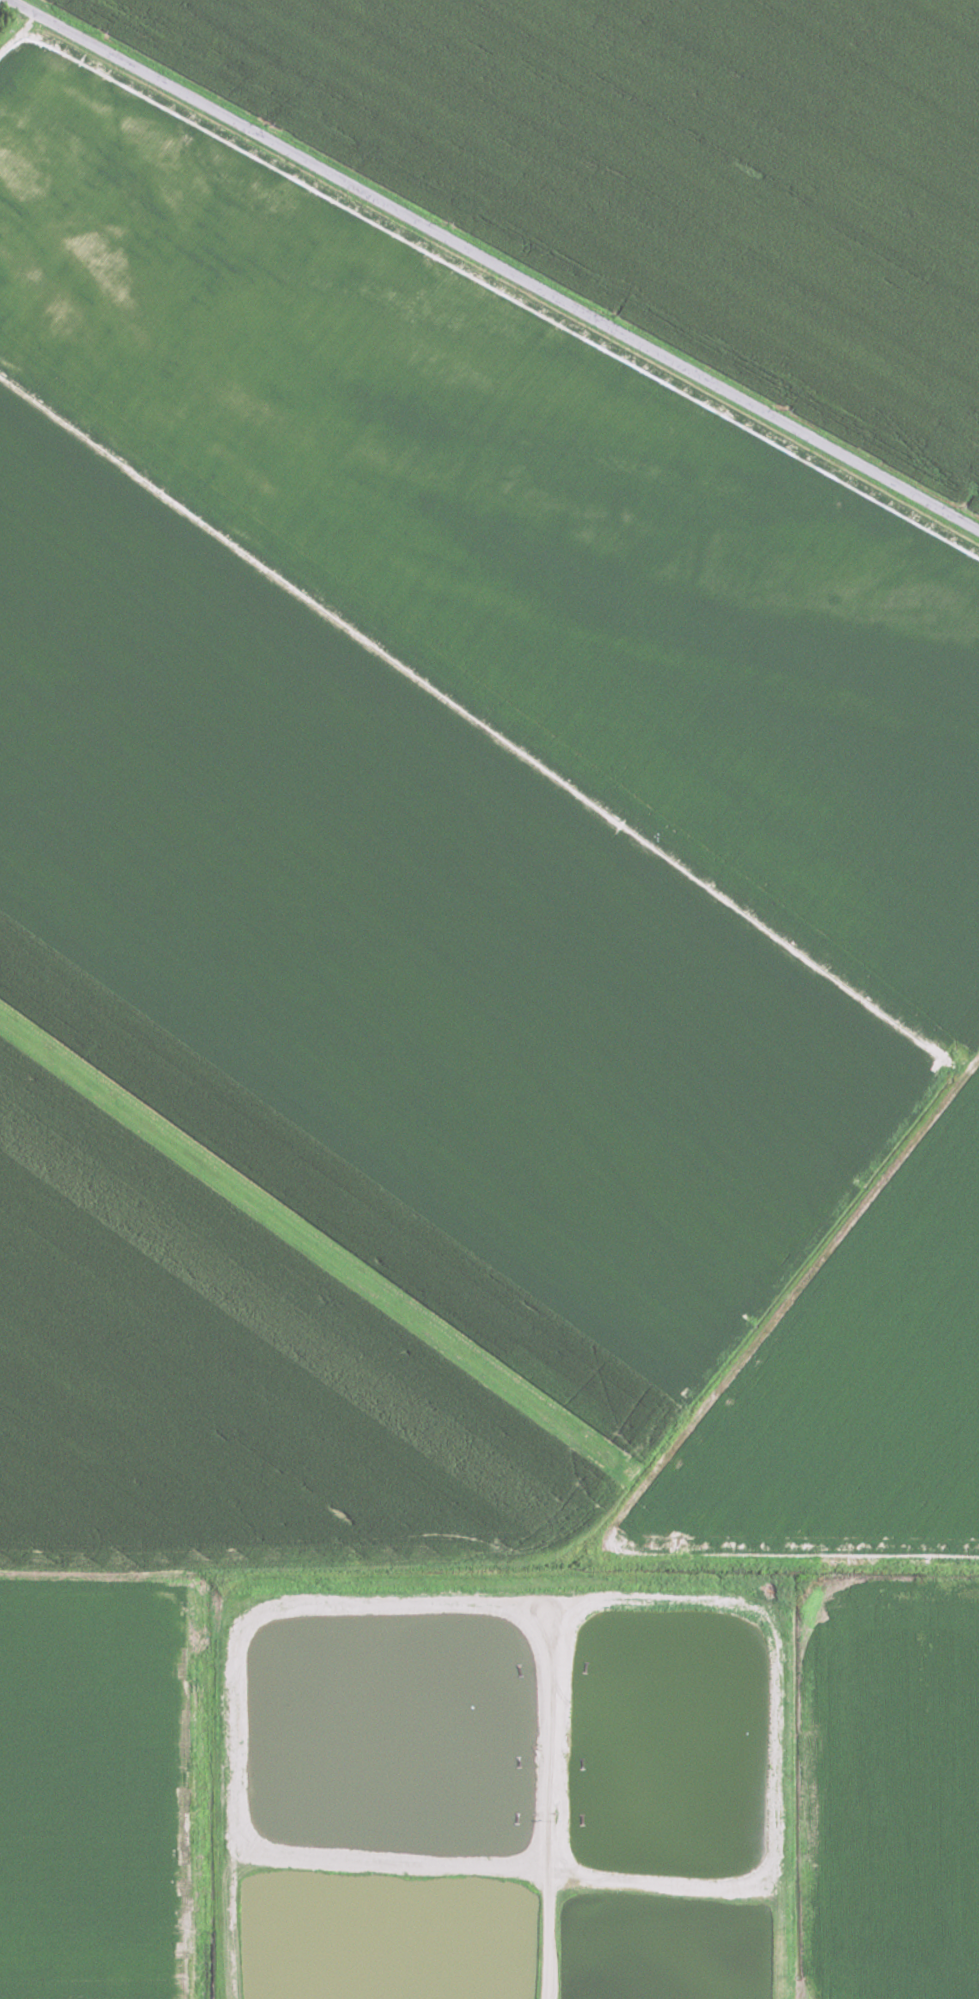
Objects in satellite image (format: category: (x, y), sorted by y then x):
road: (13, 30)
road: (490, 264)
airport runway: (322, 1249)
road: (789, 1300)
road: (775, 1560)

